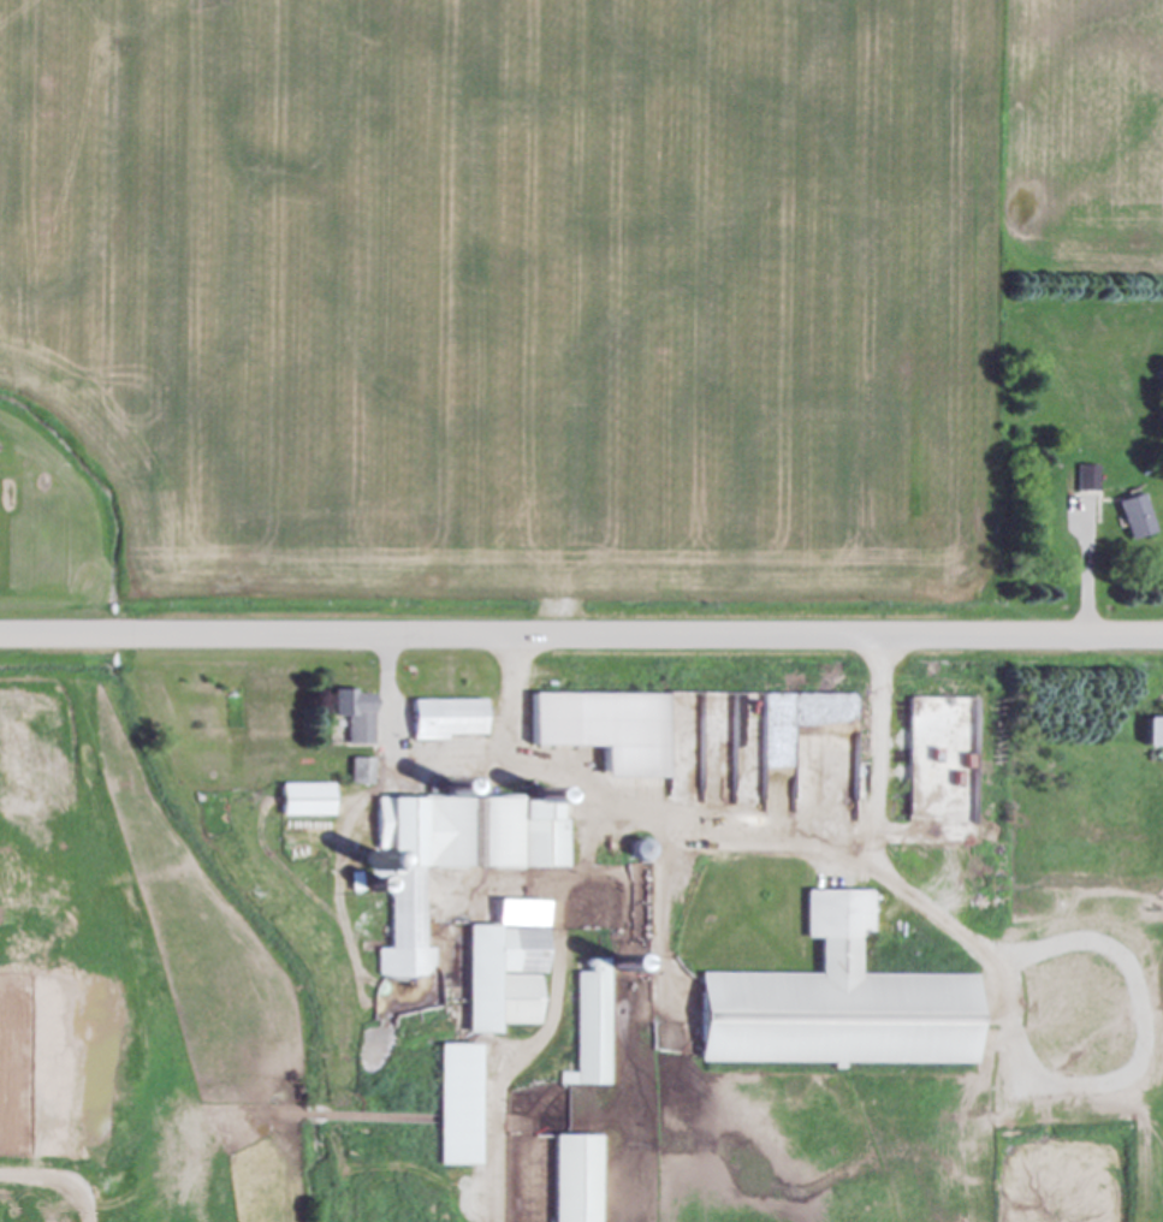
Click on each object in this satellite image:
building: (1084, 479)
building: (1128, 517)
road: (1088, 581)
road: (581, 633)
building: (349, 716)
building: (441, 720)
building: (599, 730)
building: (1150, 734)
road: (453, 760)
building: (356, 772)
building: (301, 801)
road: (790, 844)
building: (450, 858)
building: (500, 968)
building: (830, 1006)
building: (587, 1024)
building: (451, 1107)
solar farm: (52, 1176)
building: (570, 1179)

